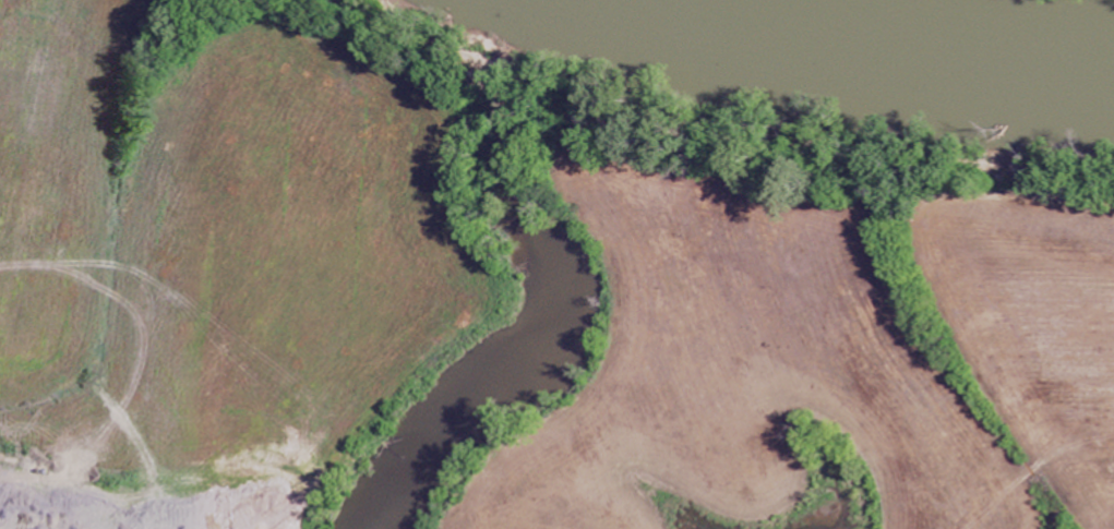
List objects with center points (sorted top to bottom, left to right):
river: (903, 45)

